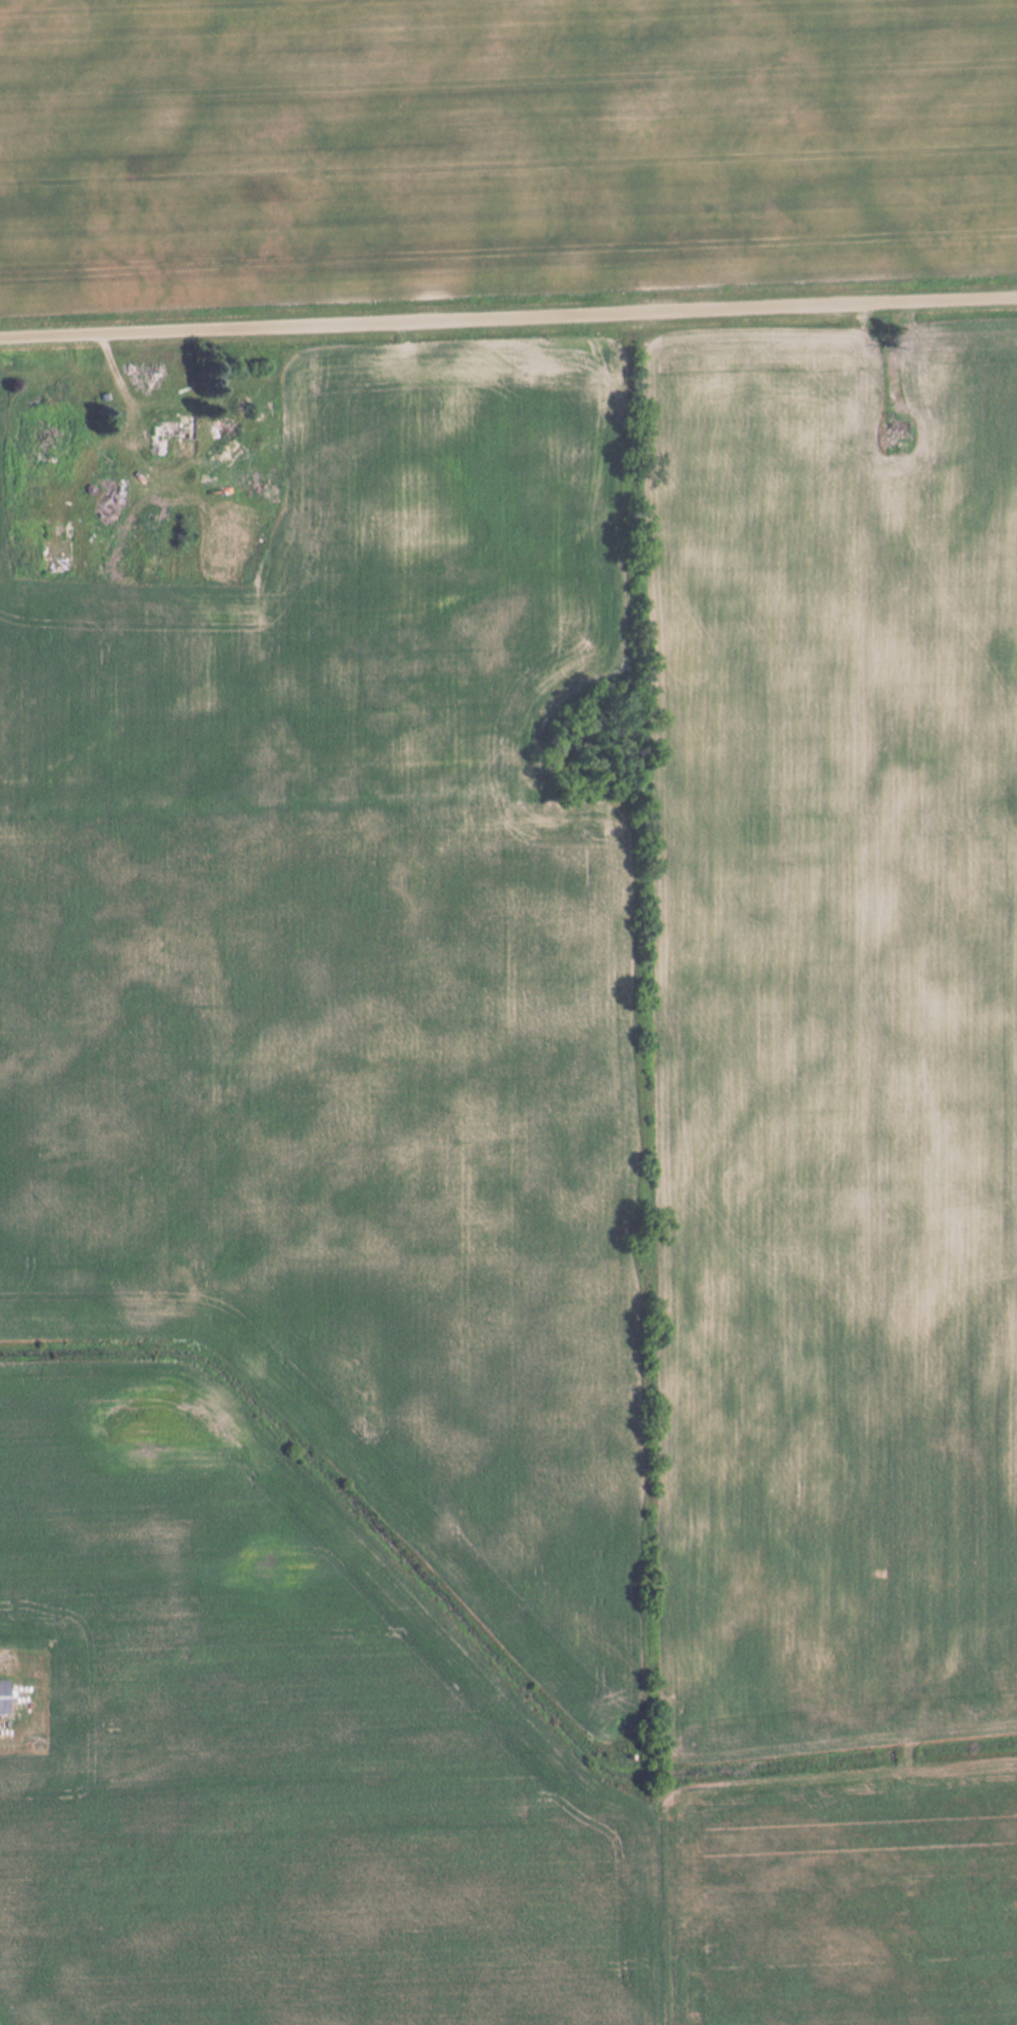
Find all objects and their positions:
road: (508, 320)
building: (38, 405)
building: (173, 434)
building: (58, 548)

